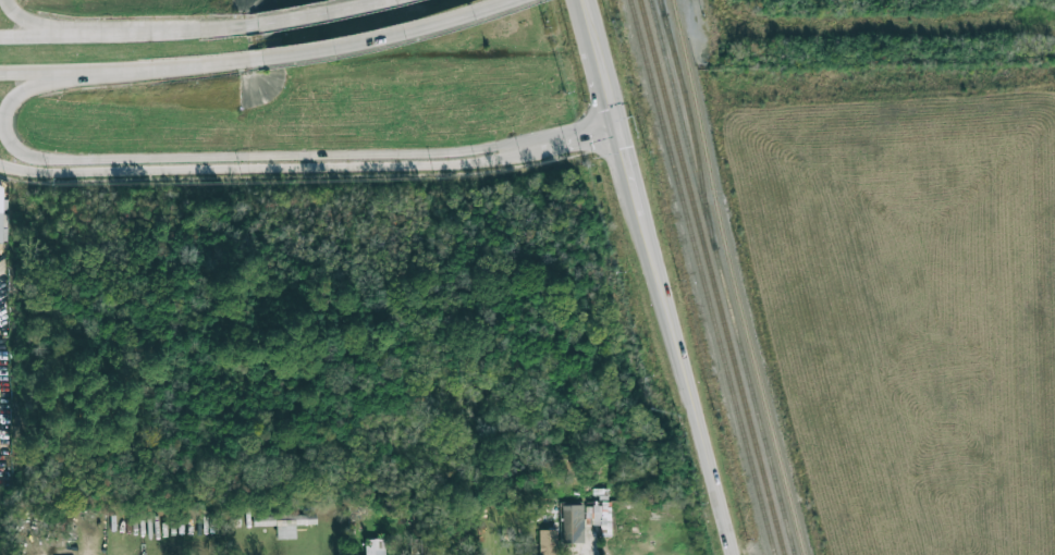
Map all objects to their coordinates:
road: (699, 9)
road: (308, 12)
road: (38, 24)
road: (158, 30)
road: (38, 37)
road: (381, 37)
railway: (674, 54)
road: (124, 70)
traffic signals: (617, 103)
railway: (680, 113)
traffic signals: (591, 139)
road: (564, 147)
traffic signals: (628, 147)
road: (242, 159)
road: (252, 168)
building: (1, 226)
railway: (703, 276)
railway: (711, 276)
road: (662, 277)
railway: (723, 279)
building: (602, 517)
building: (573, 522)
building: (548, 542)
building: (375, 546)
building: (420, 546)

